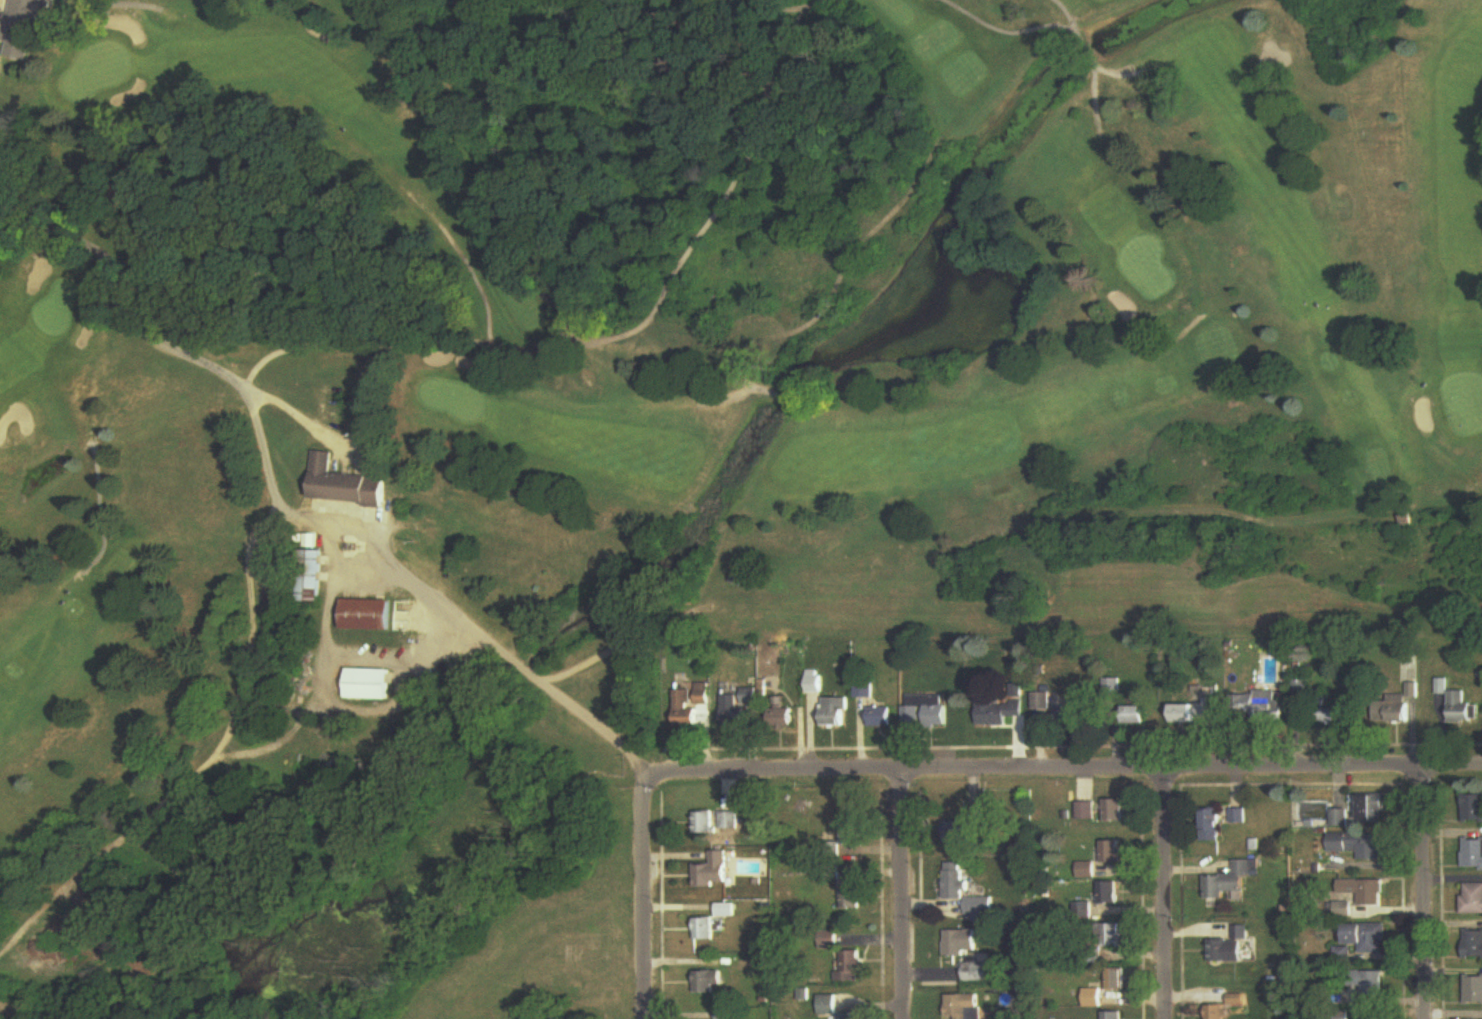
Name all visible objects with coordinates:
building: (21, 28)
park: (648, 419)
building: (348, 485)
river: (715, 507)
building: (310, 575)
building: (369, 616)
road: (497, 648)
building: (370, 684)
building: (1302, 688)
building: (1041, 702)
building: (1002, 705)
building: (1261, 706)
building: (690, 708)
building: (1463, 709)
building: (1333, 710)
building: (837, 712)
building: (1196, 712)
building: (1397, 712)
building: (736, 713)
building: (926, 713)
building: (1071, 714)
building: (1132, 715)
building: (881, 717)
building: (782, 718)
road: (1064, 773)
building: (1373, 807)
building: (1473, 807)
building: (1086, 811)
building: (1115, 811)
building: (973, 815)
building: (1238, 817)
building: (1340, 818)
building: (728, 821)
building: (705, 823)
building: (1213, 825)
building: (852, 833)
building: (1358, 845)
building: (1113, 853)
building: (1473, 855)
building: (713, 871)
building: (956, 881)
building: (1229, 881)
building: (1363, 891)
building: (1110, 893)
road: (1422, 893)
road: (1164, 895)
road: (643, 897)
road: (904, 897)
building: (852, 898)
building: (1472, 899)
building: (985, 906)
building: (1083, 910)
building: (706, 929)
building: (1114, 935)
building: (1369, 937)
building: (961, 943)
building: (1473, 944)
building: (1231, 947)
building: (852, 967)
building: (977, 972)
building: (1117, 980)
building: (710, 982)
building: (1368, 985)
building: (1473, 989)
building: (829, 1005)
building: (966, 1007)
building: (1227, 1007)
building: (1114, 1015)

